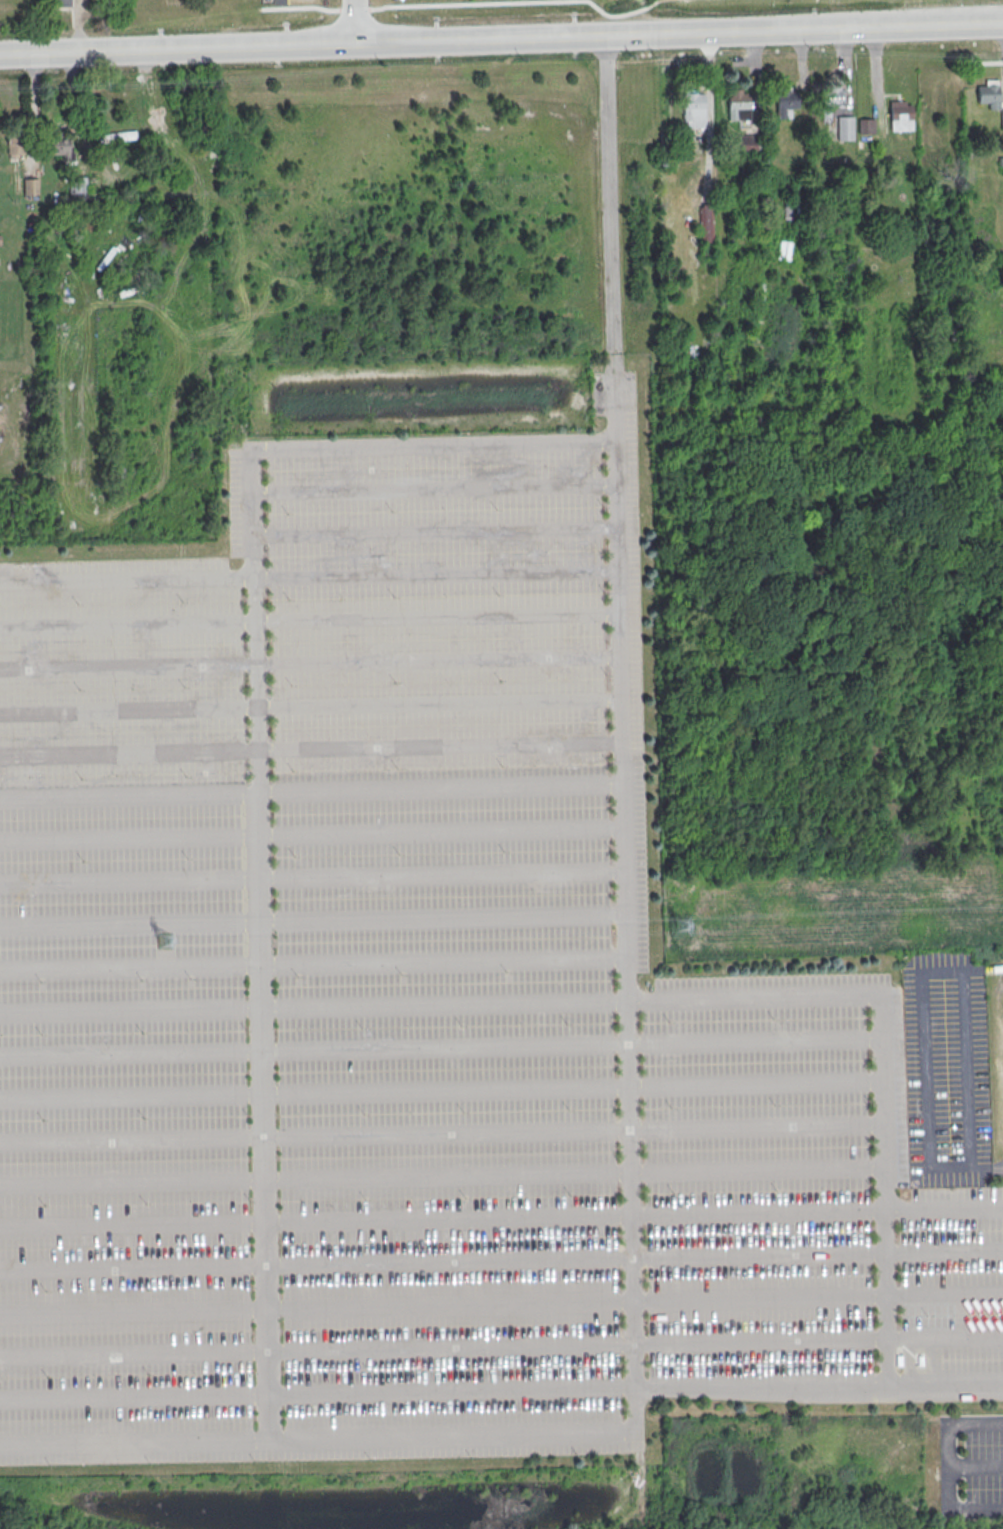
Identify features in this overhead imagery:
building: (279, 1)
building: (62, 2)
road: (352, 21)
road: (804, 31)
road: (302, 43)
building: (988, 91)
building: (831, 97)
building: (786, 102)
building: (738, 104)
building: (694, 109)
building: (1001, 114)
building: (900, 115)
building: (865, 124)
building: (845, 127)
building: (15, 140)
building: (746, 142)
building: (58, 146)
building: (80, 184)
building: (30, 185)
building: (706, 222)
road: (613, 233)
road: (435, 485)
road: (436, 531)
road: (310, 579)
road: (311, 619)
road: (311, 661)
road: (312, 704)
road: (312, 749)
road: (254, 756)
road: (312, 789)
road: (313, 830)
road: (313, 873)
road: (313, 918)
power tower: (682, 923)
road: (627, 930)
power tower: (163, 940)
road: (314, 961)
road: (439, 1003)
parking lot: (414, 1008)
road: (439, 1043)
road: (440, 1086)
road: (440, 1130)
road: (440, 1173)
road: (882, 1188)
road: (501, 1214)
road: (501, 1259)
road: (501, 1301)
road: (501, 1345)
road: (501, 1387)
road: (975, 1424)
road: (317, 1437)
road: (975, 1465)
parking lot: (970, 1466)
road: (948, 1493)

